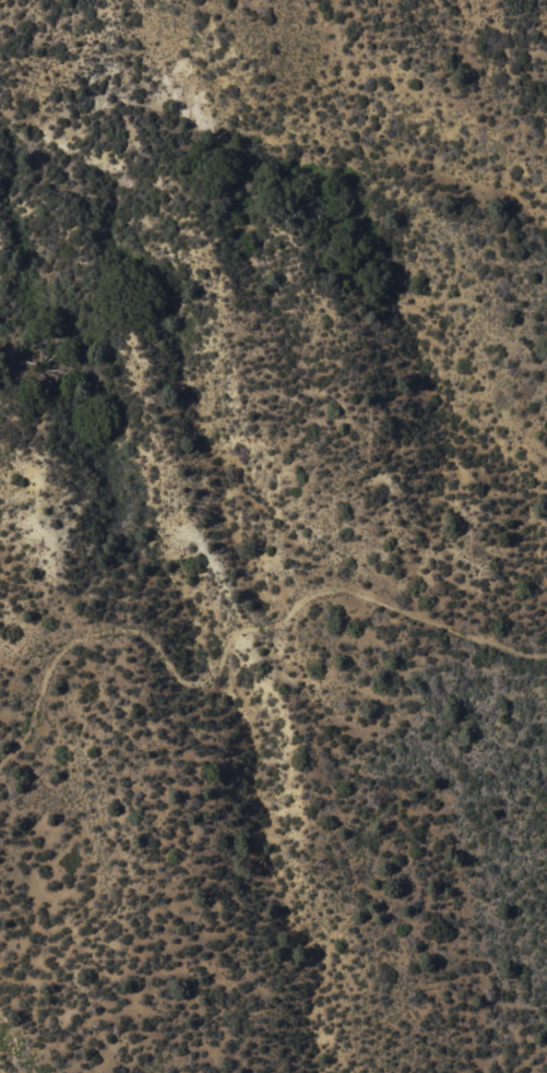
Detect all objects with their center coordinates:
road: (230, 629)
road: (20, 1050)

